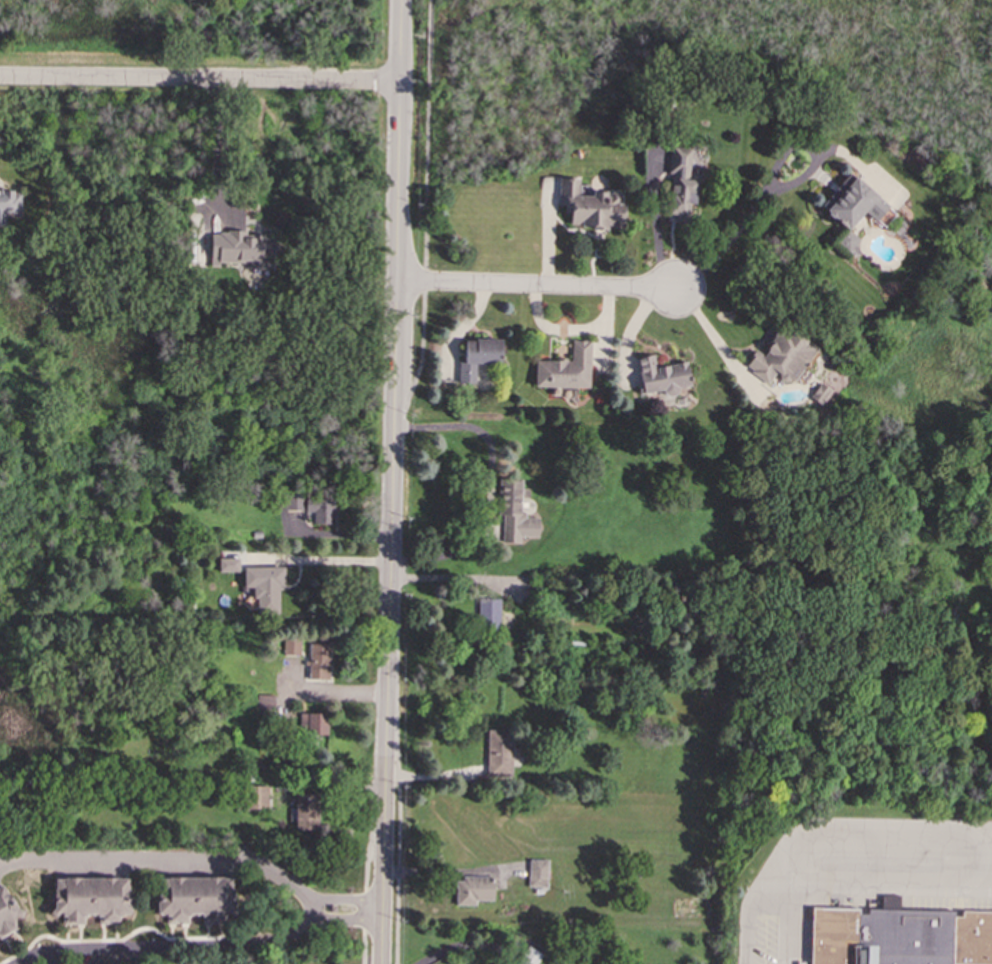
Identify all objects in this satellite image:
road: (199, 80)
road: (398, 103)
road: (427, 105)
road: (217, 136)
road: (765, 179)
building: (680, 184)
building: (854, 203)
building: (8, 204)
road: (425, 246)
building: (239, 247)
road: (535, 286)
road: (394, 321)
road: (716, 340)
building: (476, 357)
building: (780, 357)
road: (419, 361)
building: (564, 368)
building: (660, 376)
road: (491, 489)
building: (290, 501)
building: (320, 508)
building: (514, 511)
road: (315, 561)
building: (228, 564)
building: (264, 586)
road: (390, 592)
building: (488, 612)
building: (291, 646)
building: (318, 661)
road: (329, 692)
building: (265, 702)
building: (313, 723)
building: (499, 753)
road: (386, 766)
building: (256, 797)
road: (398, 855)
road: (199, 858)
road: (866, 862)
road: (366, 872)
building: (537, 872)
road: (383, 873)
building: (473, 889)
building: (90, 898)
building: (194, 898)
building: (6, 912)
road: (748, 922)
road: (786, 928)
building: (900, 936)
road: (460, 946)
road: (169, 948)
building: (528, 956)

